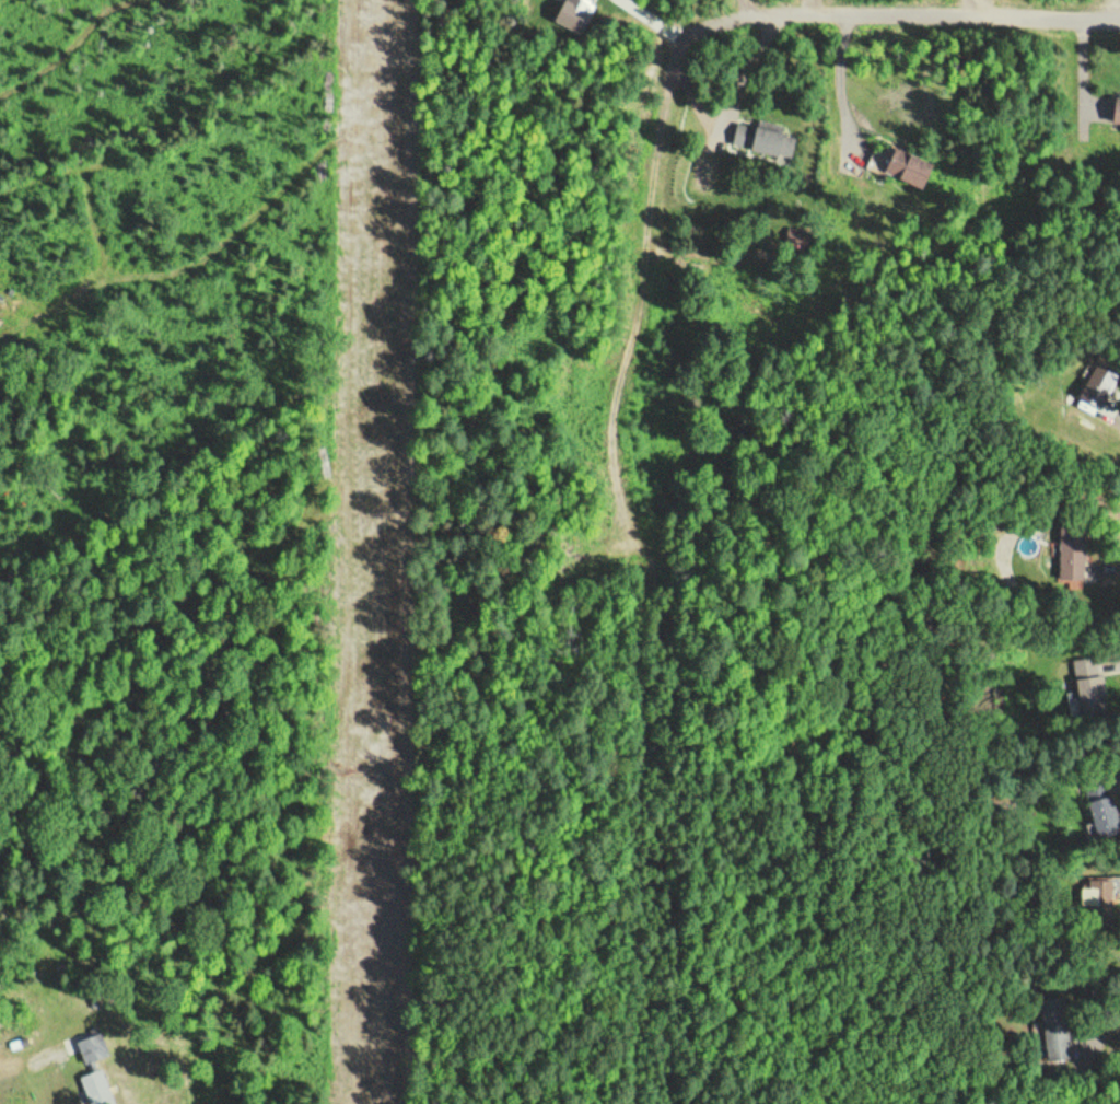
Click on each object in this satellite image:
road: (1047, 2)
road: (736, 4)
building: (1119, 112)
building: (766, 138)
building: (917, 168)
building: (696, 181)
building: (1073, 554)
road: (640, 577)
building: (1092, 694)
building: (98, 1069)

